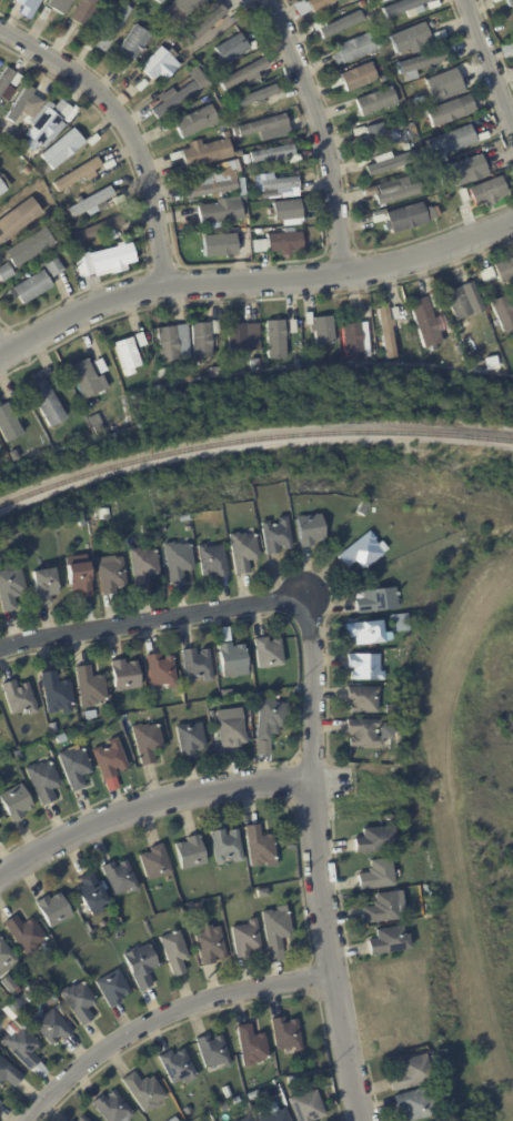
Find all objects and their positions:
building: (350, 0)
building: (375, 0)
building: (158, 1)
building: (345, 1)
building: (491, 1)
building: (19, 2)
building: (361, 3)
building: (433, 3)
building: (506, 3)
building: (29, 4)
building: (58, 4)
building: (319, 4)
building: (401, 7)
building: (181, 9)
building: (43, 12)
building: (80, 17)
building: (212, 19)
building: (162, 22)
building: (339, 24)
building: (109, 28)
building: (439, 34)
building: (512, 38)
building: (408, 39)
building: (133, 41)
building: (512, 43)
building: (193, 47)
building: (233, 47)
building: (352, 48)
building: (504, 51)
building: (204, 58)
road: (491, 59)
building: (158, 63)
building: (419, 63)
building: (123, 65)
building: (243, 73)
building: (359, 77)
building: (336, 82)
building: (440, 83)
building: (3, 84)
building: (141, 85)
building: (178, 91)
building: (258, 99)
building: (375, 101)
building: (18, 104)
building: (66, 111)
building: (450, 111)
building: (195, 122)
building: (41, 125)
building: (168, 125)
building: (261, 125)
road: (128, 127)
building: (223, 128)
building: (286, 130)
building: (360, 131)
road: (322, 132)
building: (388, 134)
building: (93, 139)
building: (450, 143)
building: (405, 145)
building: (61, 148)
building: (208, 152)
building: (275, 154)
building: (177, 155)
building: (247, 160)
building: (364, 161)
building: (390, 163)
building: (464, 171)
building: (76, 174)
building: (3, 184)
building: (279, 186)
building: (210, 188)
building: (398, 191)
building: (484, 191)
building: (119, 200)
building: (89, 201)
building: (432, 209)
building: (285, 210)
building: (220, 212)
building: (379, 218)
building: (405, 218)
building: (18, 219)
building: (56, 219)
building: (98, 229)
building: (259, 231)
building: (279, 242)
building: (220, 244)
building: (31, 246)
building: (110, 259)
building: (56, 267)
building: (504, 271)
building: (6, 272)
building: (487, 274)
road: (252, 280)
building: (32, 287)
building: (484, 295)
building: (434, 300)
building: (457, 303)
building: (487, 310)
building: (504, 311)
building: (396, 313)
building: (405, 313)
building: (424, 324)
building: (217, 326)
building: (293, 326)
building: (321, 329)
building: (388, 333)
building: (354, 337)
building: (239, 339)
building: (141, 340)
building: (201, 340)
building: (276, 340)
building: (173, 344)
road: (2, 351)
building: (128, 355)
building: (491, 363)
building: (512, 364)
building: (101, 366)
building: (217, 371)
building: (164, 372)
building: (189, 376)
building: (84, 380)
building: (59, 382)
building: (19, 403)
building: (47, 404)
building: (8, 424)
building: (99, 430)
railway: (251, 437)
building: (2, 461)
building: (364, 506)
building: (101, 514)
building: (80, 523)
building: (189, 528)
building: (311, 529)
building: (276, 536)
building: (243, 552)
building: (363, 553)
building: (213, 560)
building: (144, 567)
building: (179, 568)
building: (112, 574)
building: (80, 579)
building: (11, 586)
building: (46, 586)
building: (376, 600)
road: (150, 619)
building: (400, 623)
building: (368, 633)
building: (270, 653)
building: (233, 662)
building: (201, 665)
building: (365, 668)
building: (162, 671)
building: (125, 676)
building: (91, 687)
road: (312, 687)
building: (227, 693)
building: (58, 694)
building: (258, 697)
building: (20, 698)
building: (298, 699)
building: (364, 700)
building: (212, 714)
building: (270, 727)
building: (52, 728)
building: (97, 731)
building: (232, 733)
building: (369, 734)
building: (62, 738)
building: (190, 738)
building: (149, 743)
building: (1, 746)
building: (18, 754)
building: (399, 763)
building: (112, 764)
building: (74, 767)
road: (331, 778)
building: (44, 781)
building: (17, 804)
road: (149, 805)
building: (376, 840)
building: (227, 846)
building: (260, 846)
building: (190, 852)
building: (155, 862)
building: (378, 876)
building: (120, 877)
building: (262, 892)
building: (91, 893)
building: (198, 907)
building: (384, 908)
building: (53, 909)
building: (275, 931)
building: (27, 933)
building: (245, 938)
building: (390, 940)
building: (211, 945)
road: (323, 951)
building: (175, 952)
building: (7, 953)
building: (142, 965)
building: (9, 983)
building: (42, 987)
building: (113, 987)
building: (80, 1001)
building: (17, 1002)
building: (60, 1008)
road: (163, 1019)
building: (51, 1027)
building: (286, 1034)
building: (251, 1046)
building: (24, 1049)
building: (213, 1051)
building: (178, 1066)
building: (9, 1072)
building: (408, 1072)
building: (292, 1080)
building: (268, 1090)
building: (144, 1091)
building: (227, 1092)
building: (0, 1102)
building: (234, 1103)
building: (412, 1103)
building: (309, 1105)
building: (112, 1107)
building: (273, 1115)
building: (83, 1119)
building: (172, 1119)
building: (248, 1119)
building: (70, 1120)
building: (237, 1120)
building: (432, 1120)
building: (434, 1120)

